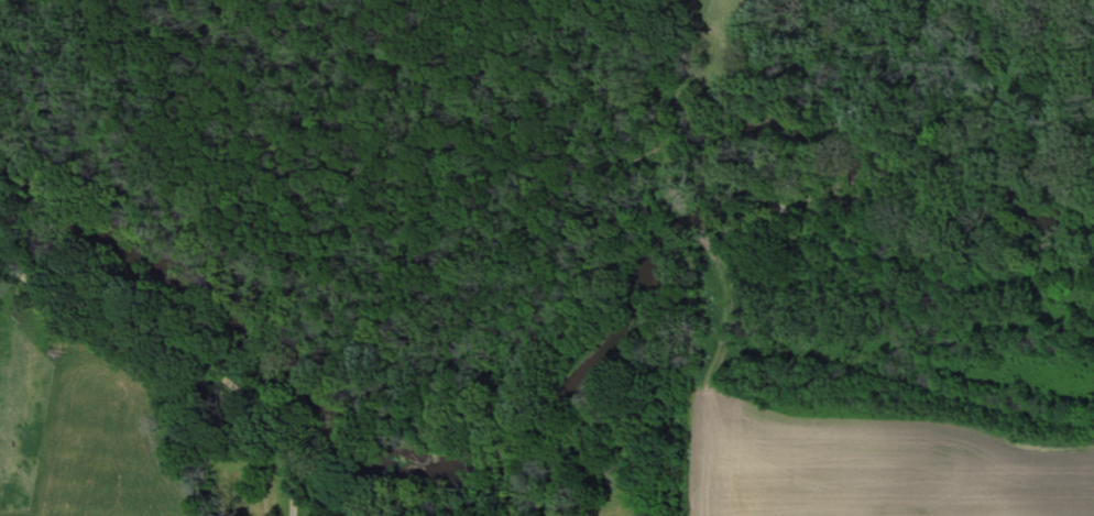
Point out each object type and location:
road: (188, 350)

